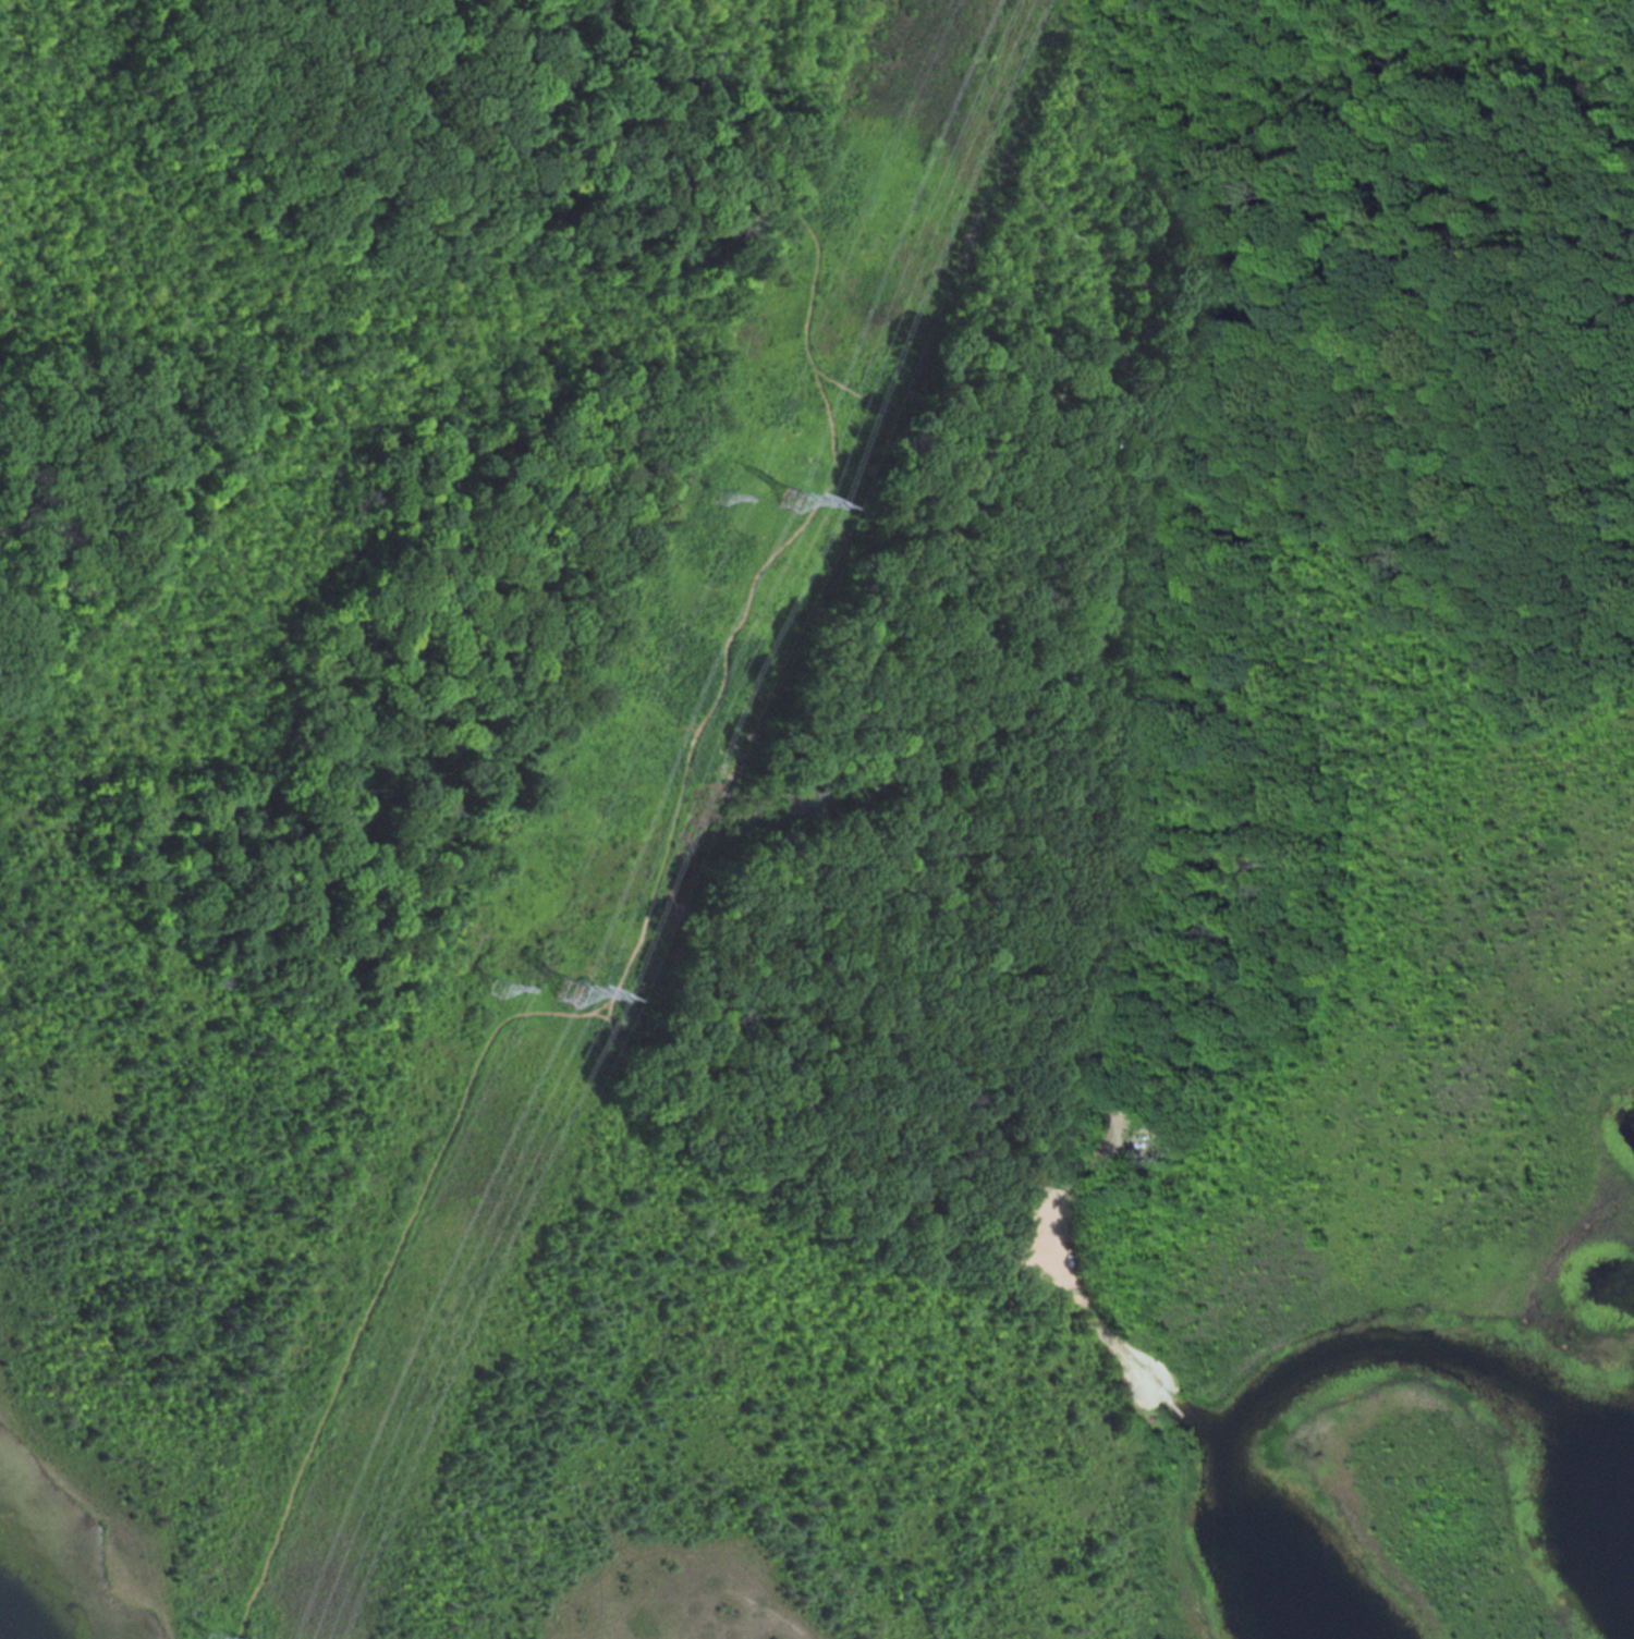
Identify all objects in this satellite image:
road: (1631, 115)
road: (782, 179)
parking lot: (1510, 241)
road: (1405, 303)
road: (826, 418)
parking lot: (1263, 429)
parking lot: (1142, 448)
power tower: (708, 497)
power tower: (782, 499)
road: (565, 505)
road: (1411, 530)
road: (1501, 636)
parking lot: (1141, 680)
road: (1118, 812)
park: (817, 819)
parking lot: (1131, 910)
road: (646, 918)
power tower: (568, 994)
power tower: (500, 995)
road: (491, 998)
road: (459, 1002)
road: (598, 1004)
parking lot: (1127, 1137)
road: (1137, 1146)
building: (1033, 1188)
parking lot: (1038, 1246)
road: (383, 1277)
road: (1082, 1306)
river: (1327, 1356)
pier: (1174, 1407)
road: (1153, 1434)

